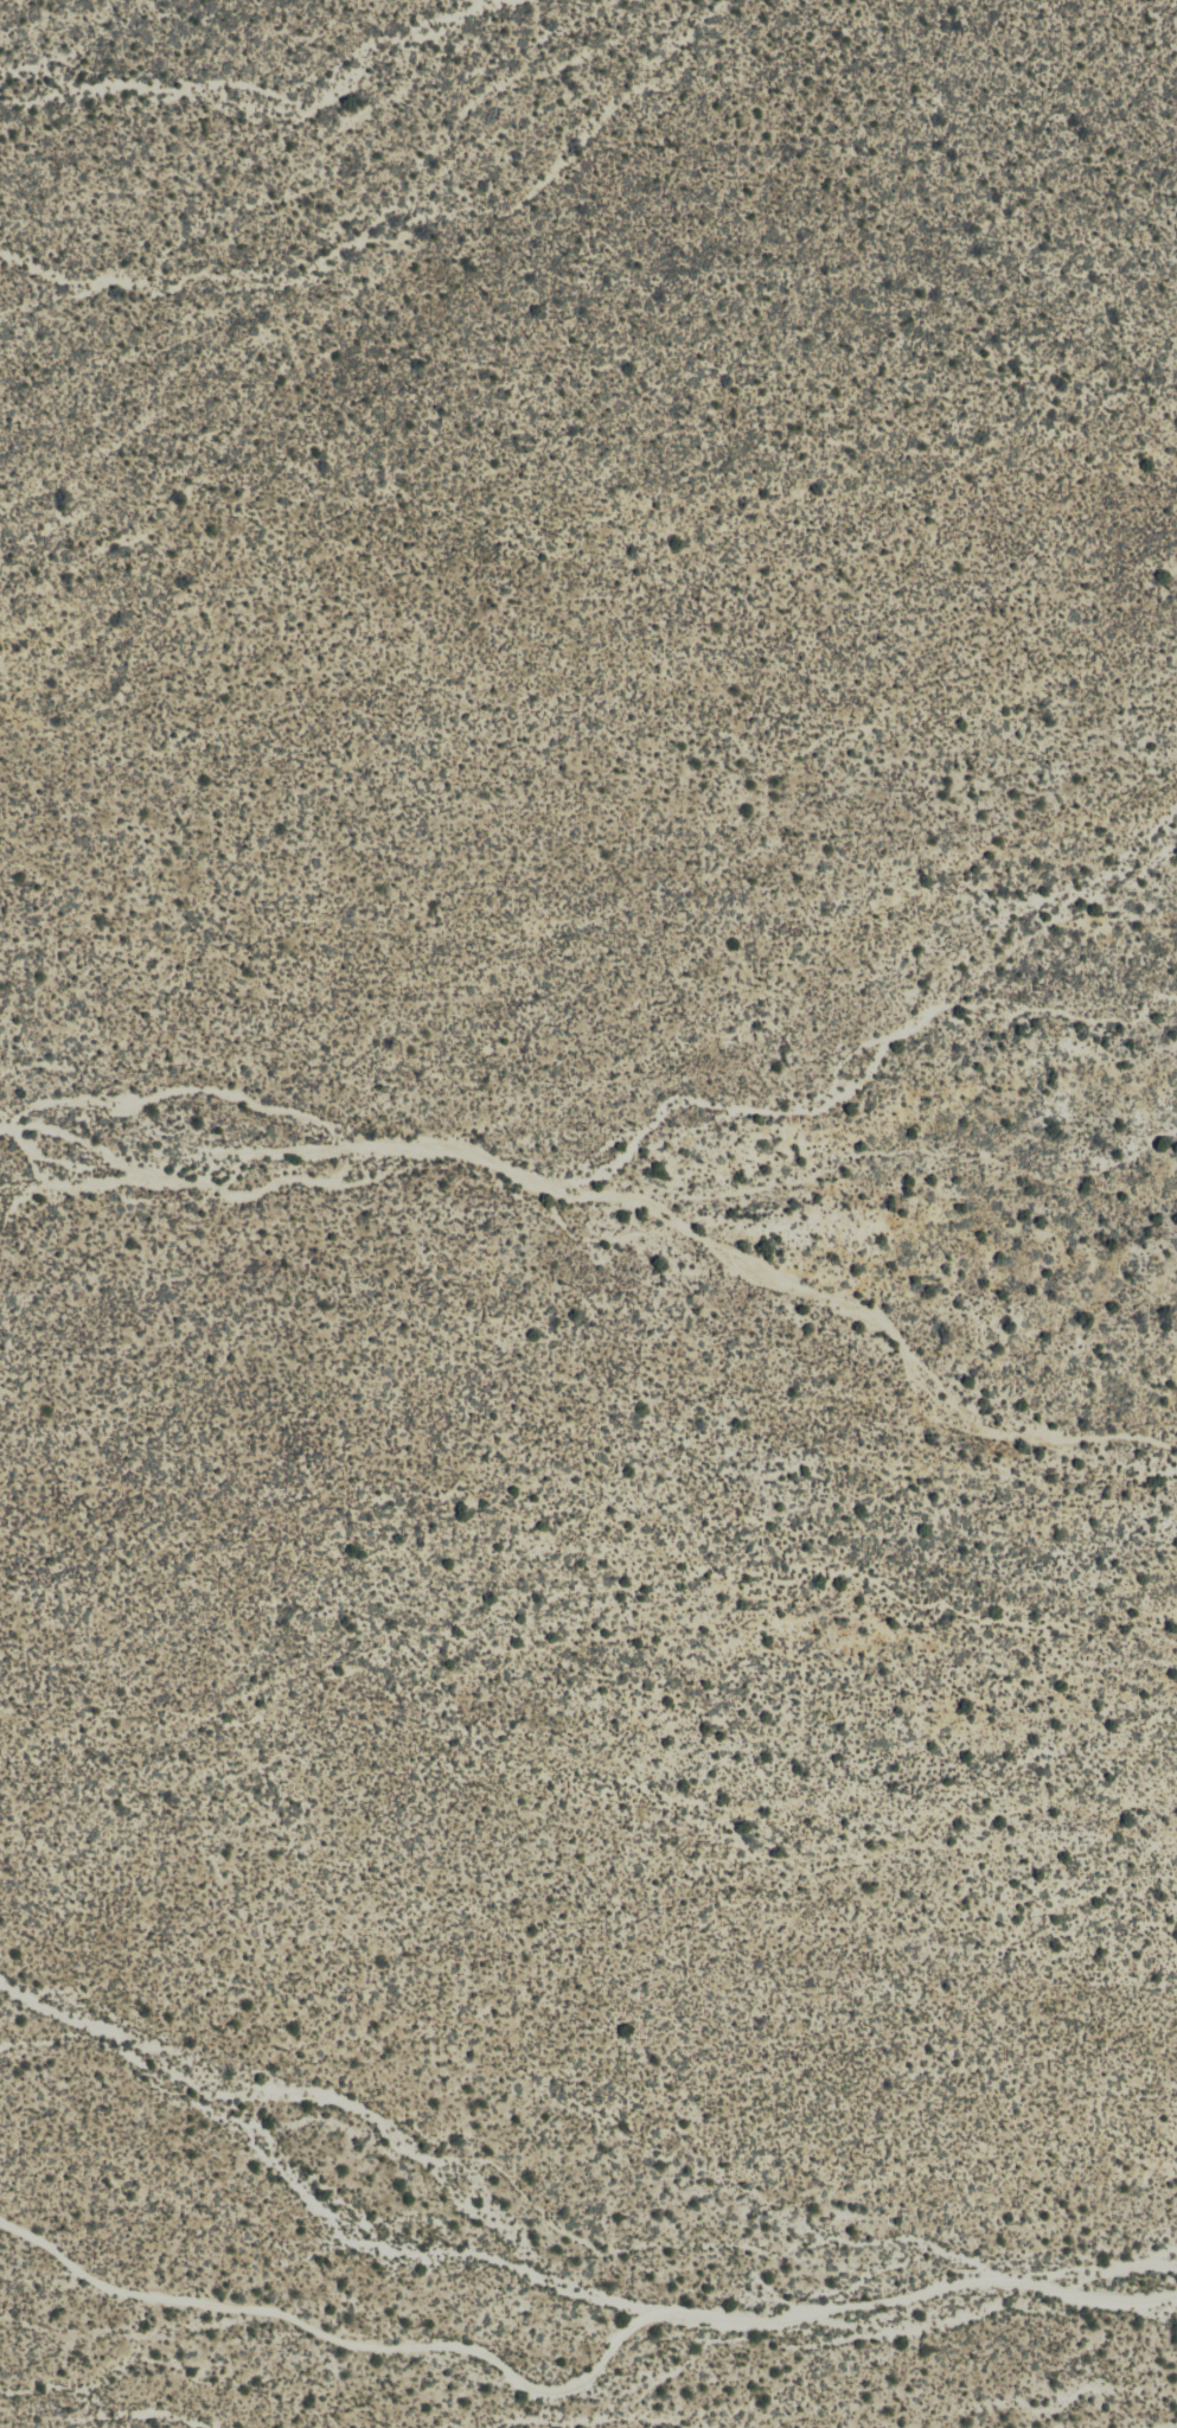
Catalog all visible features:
road: (582, 2381)

